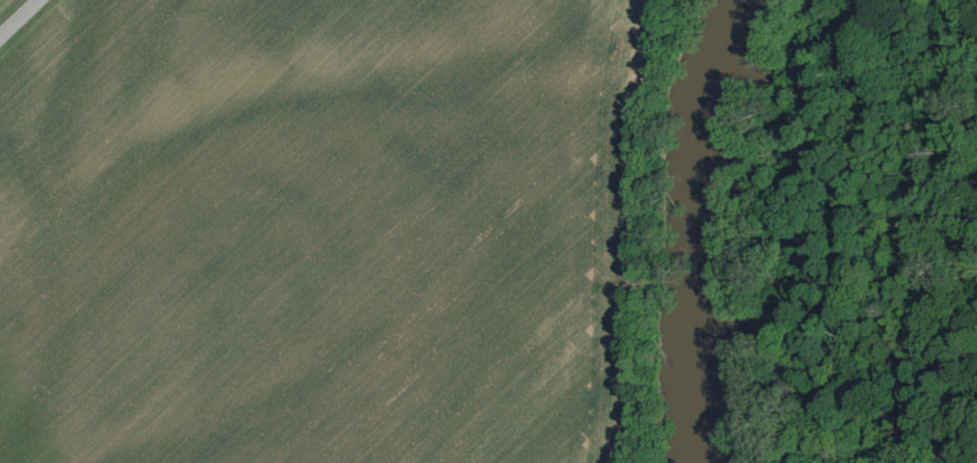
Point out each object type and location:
road: (17, 16)
river: (707, 227)

